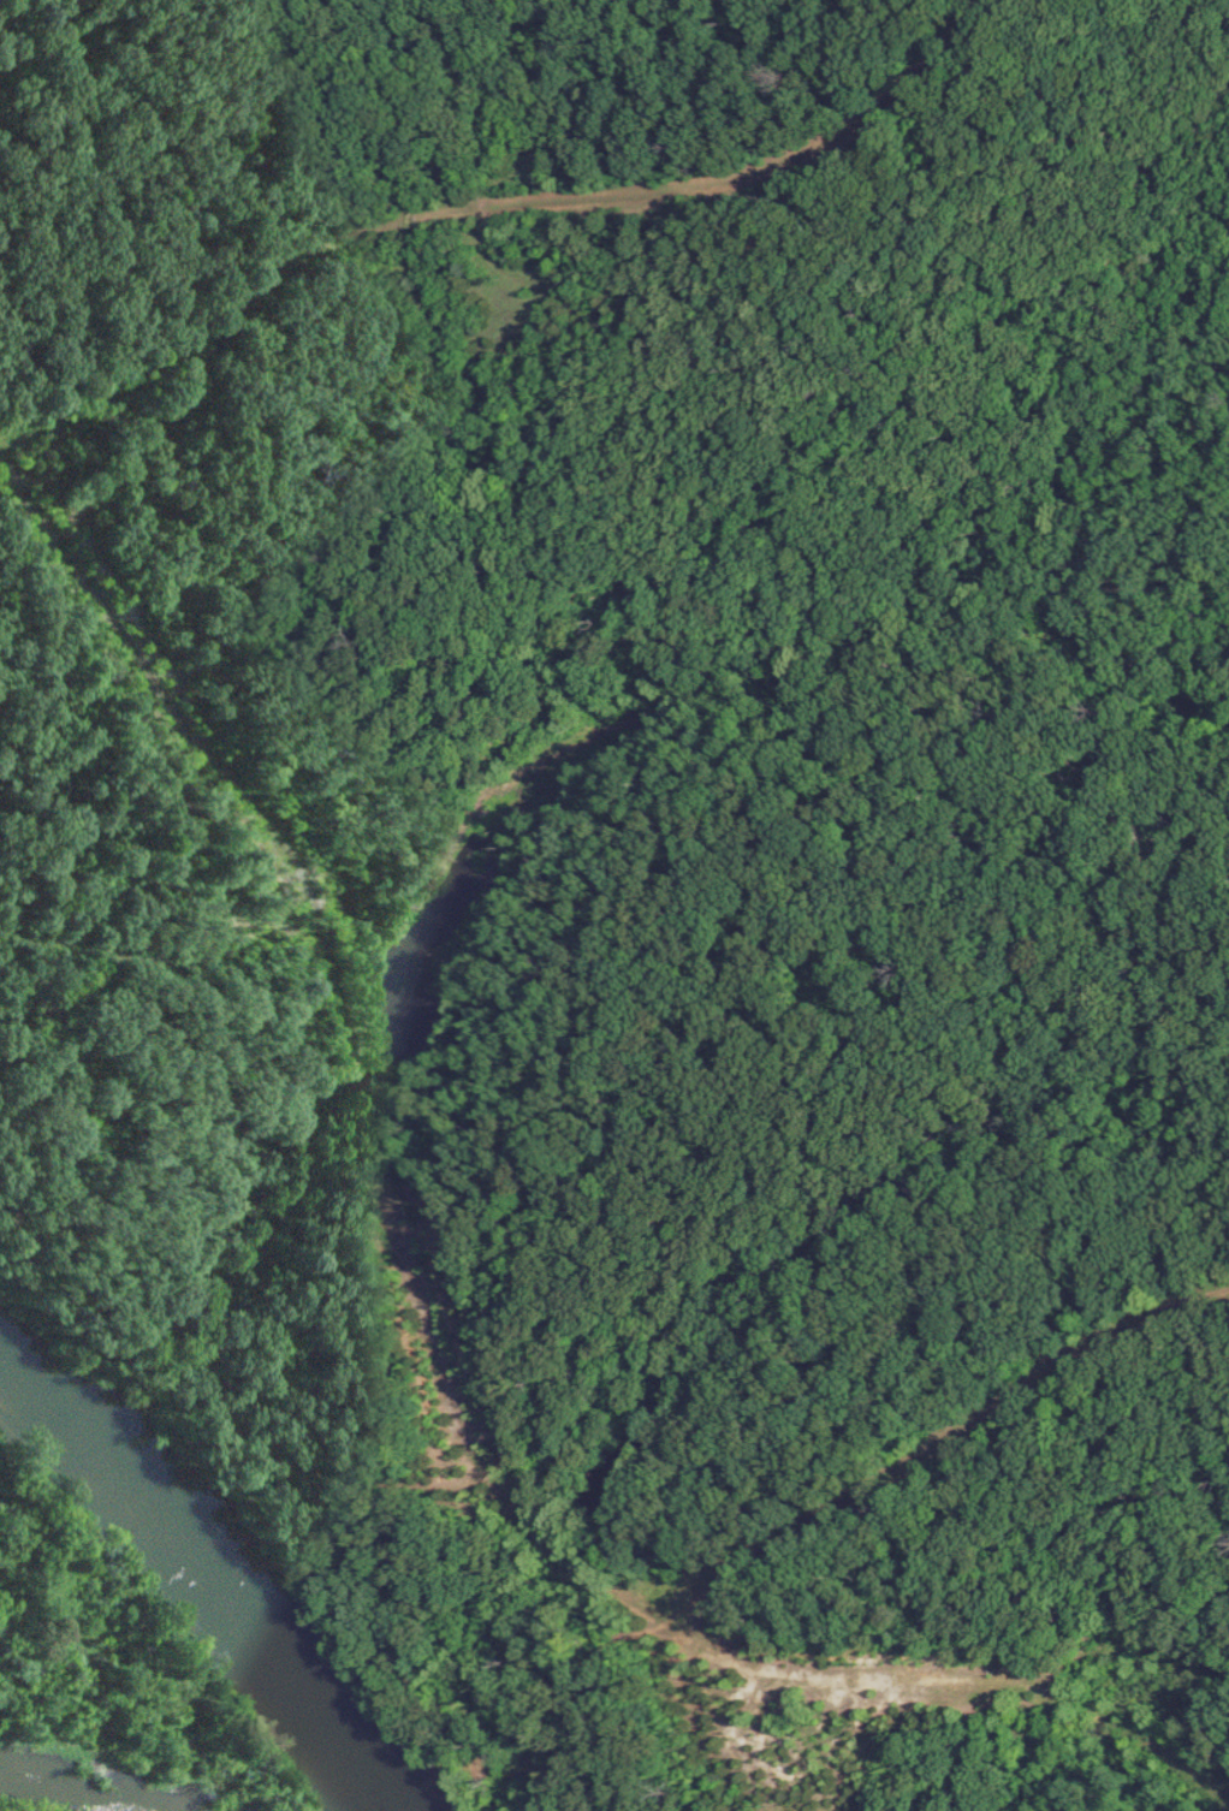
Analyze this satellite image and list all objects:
road: (244, 291)
river: (215, 1552)
road: (1180, 1757)

